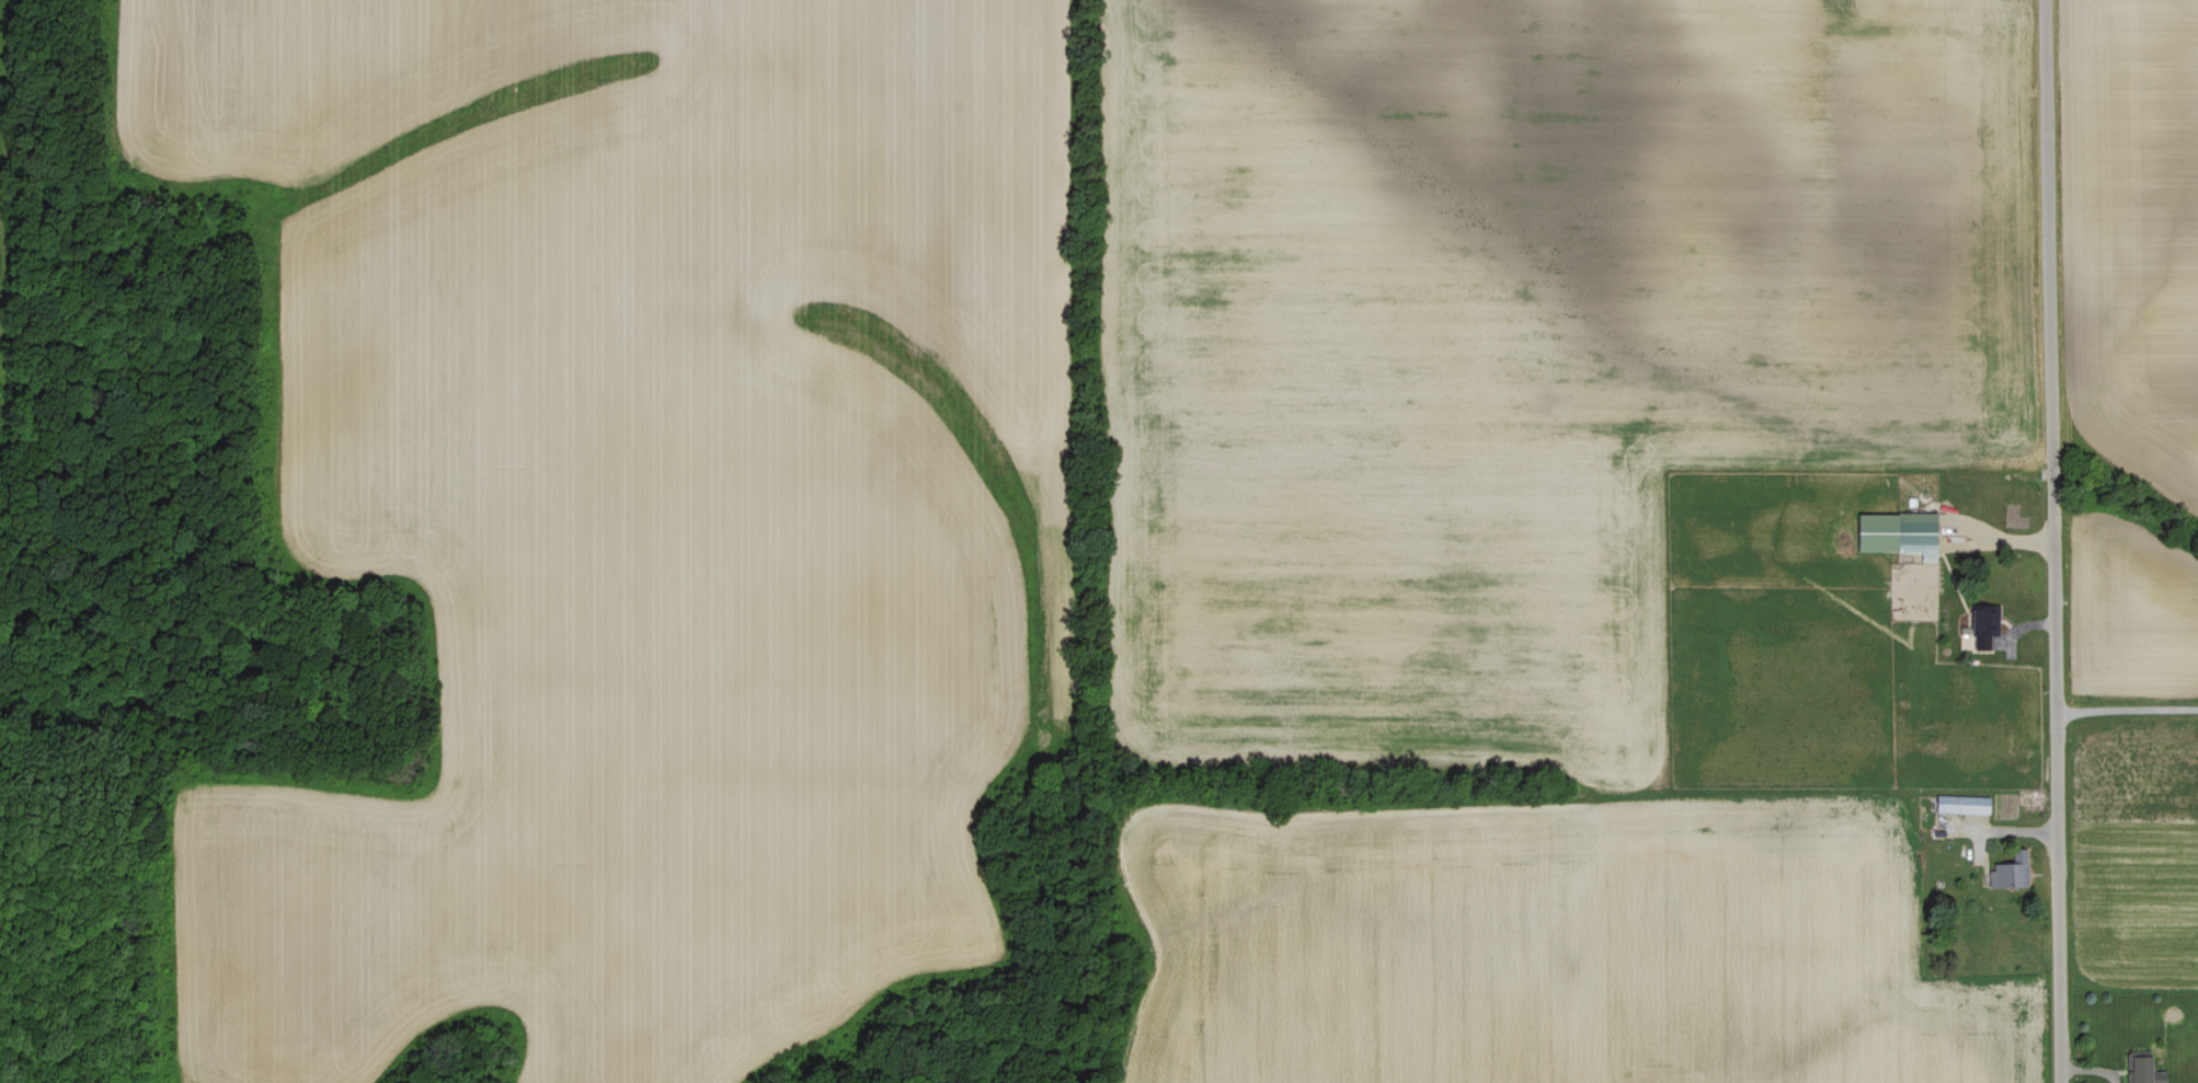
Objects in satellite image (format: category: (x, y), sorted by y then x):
building: (1896, 534)
road: (2052, 541)
building: (1984, 619)
road: (2127, 710)
building: (1962, 806)
building: (2012, 873)
building: (2144, 1071)

